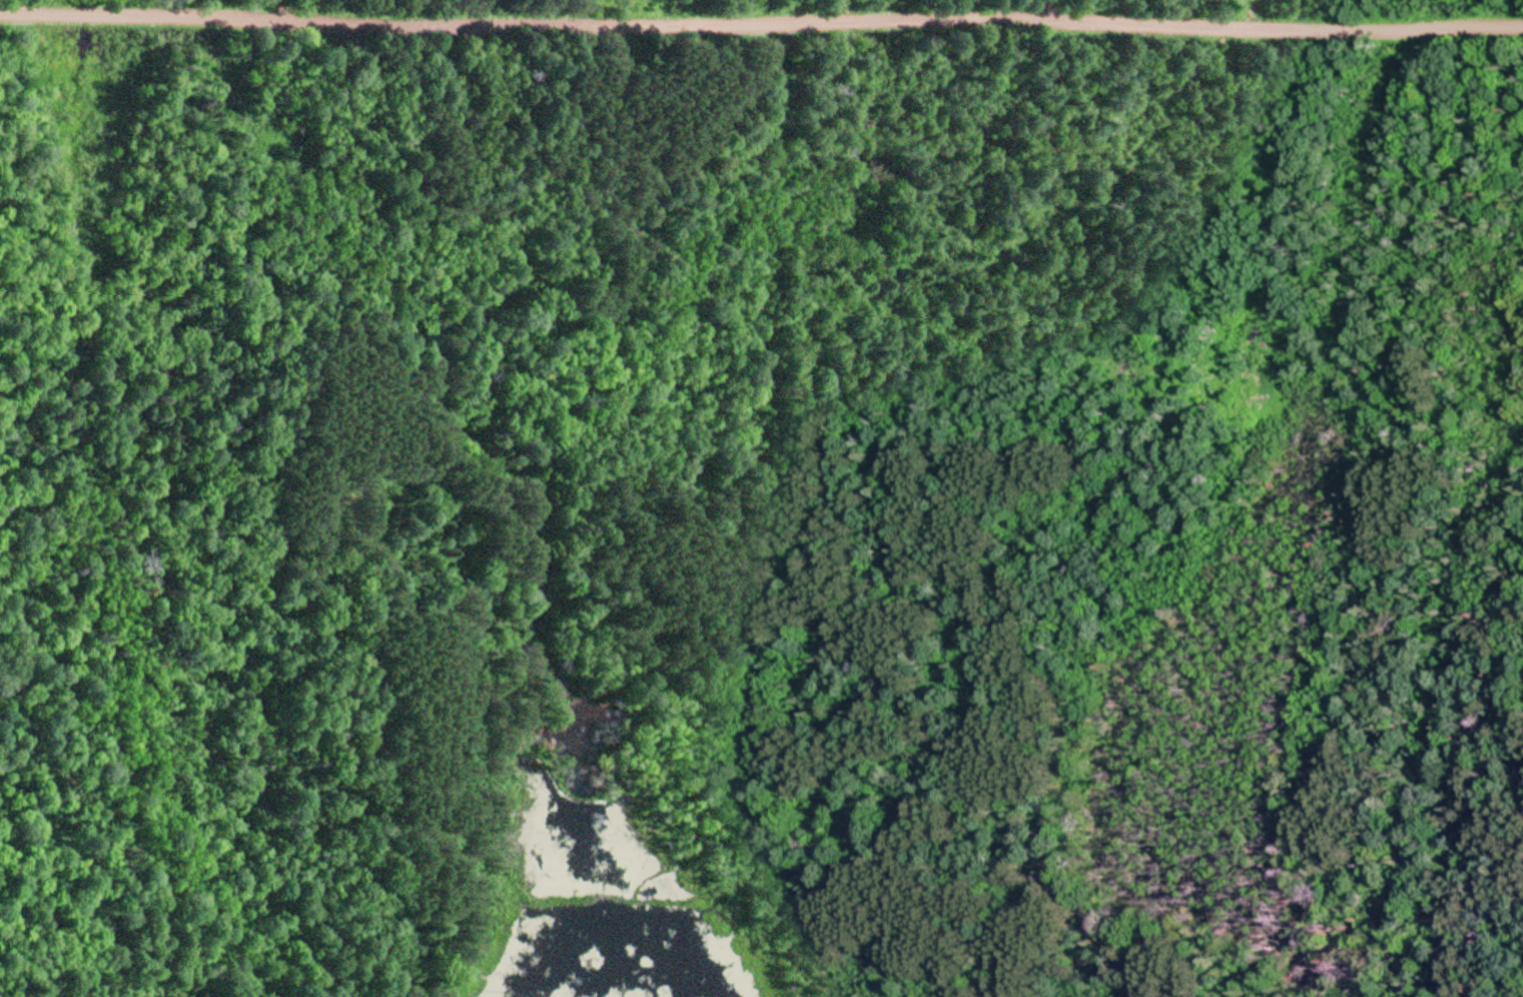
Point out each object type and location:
road: (607, 20)
road: (1368, 34)
road: (767, 565)

